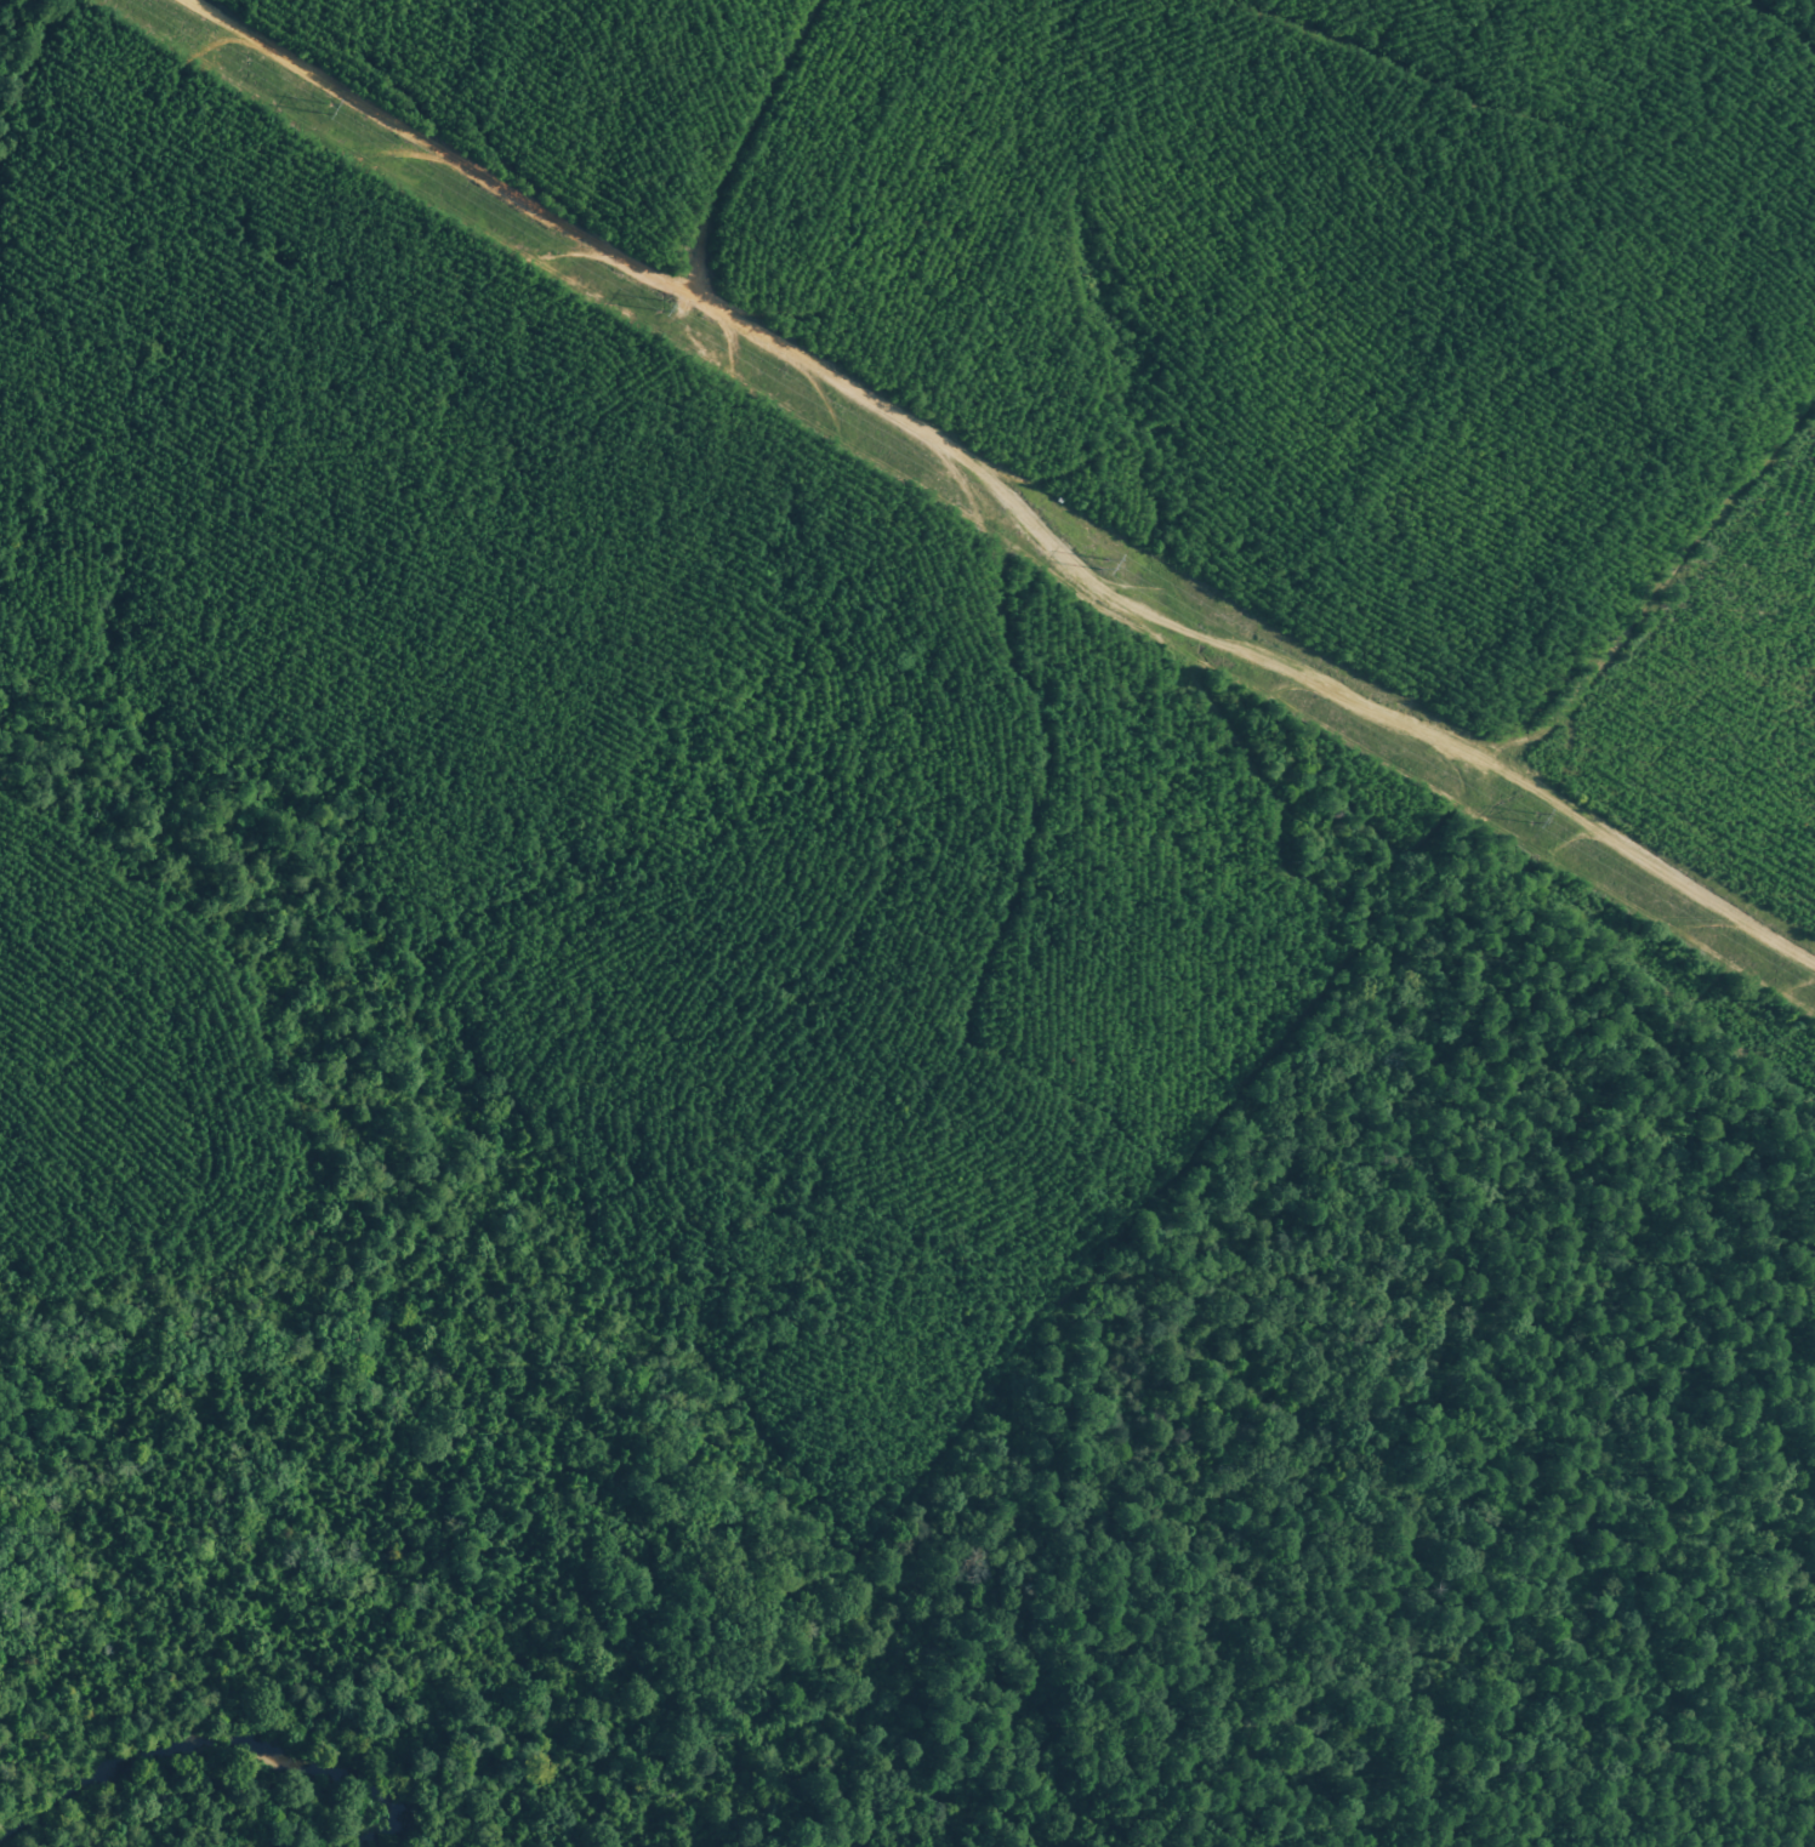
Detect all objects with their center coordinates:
power tower: (330, 108)
power tower: (656, 300)
road: (1003, 477)
power tower: (1105, 563)
power tower: (1530, 814)

